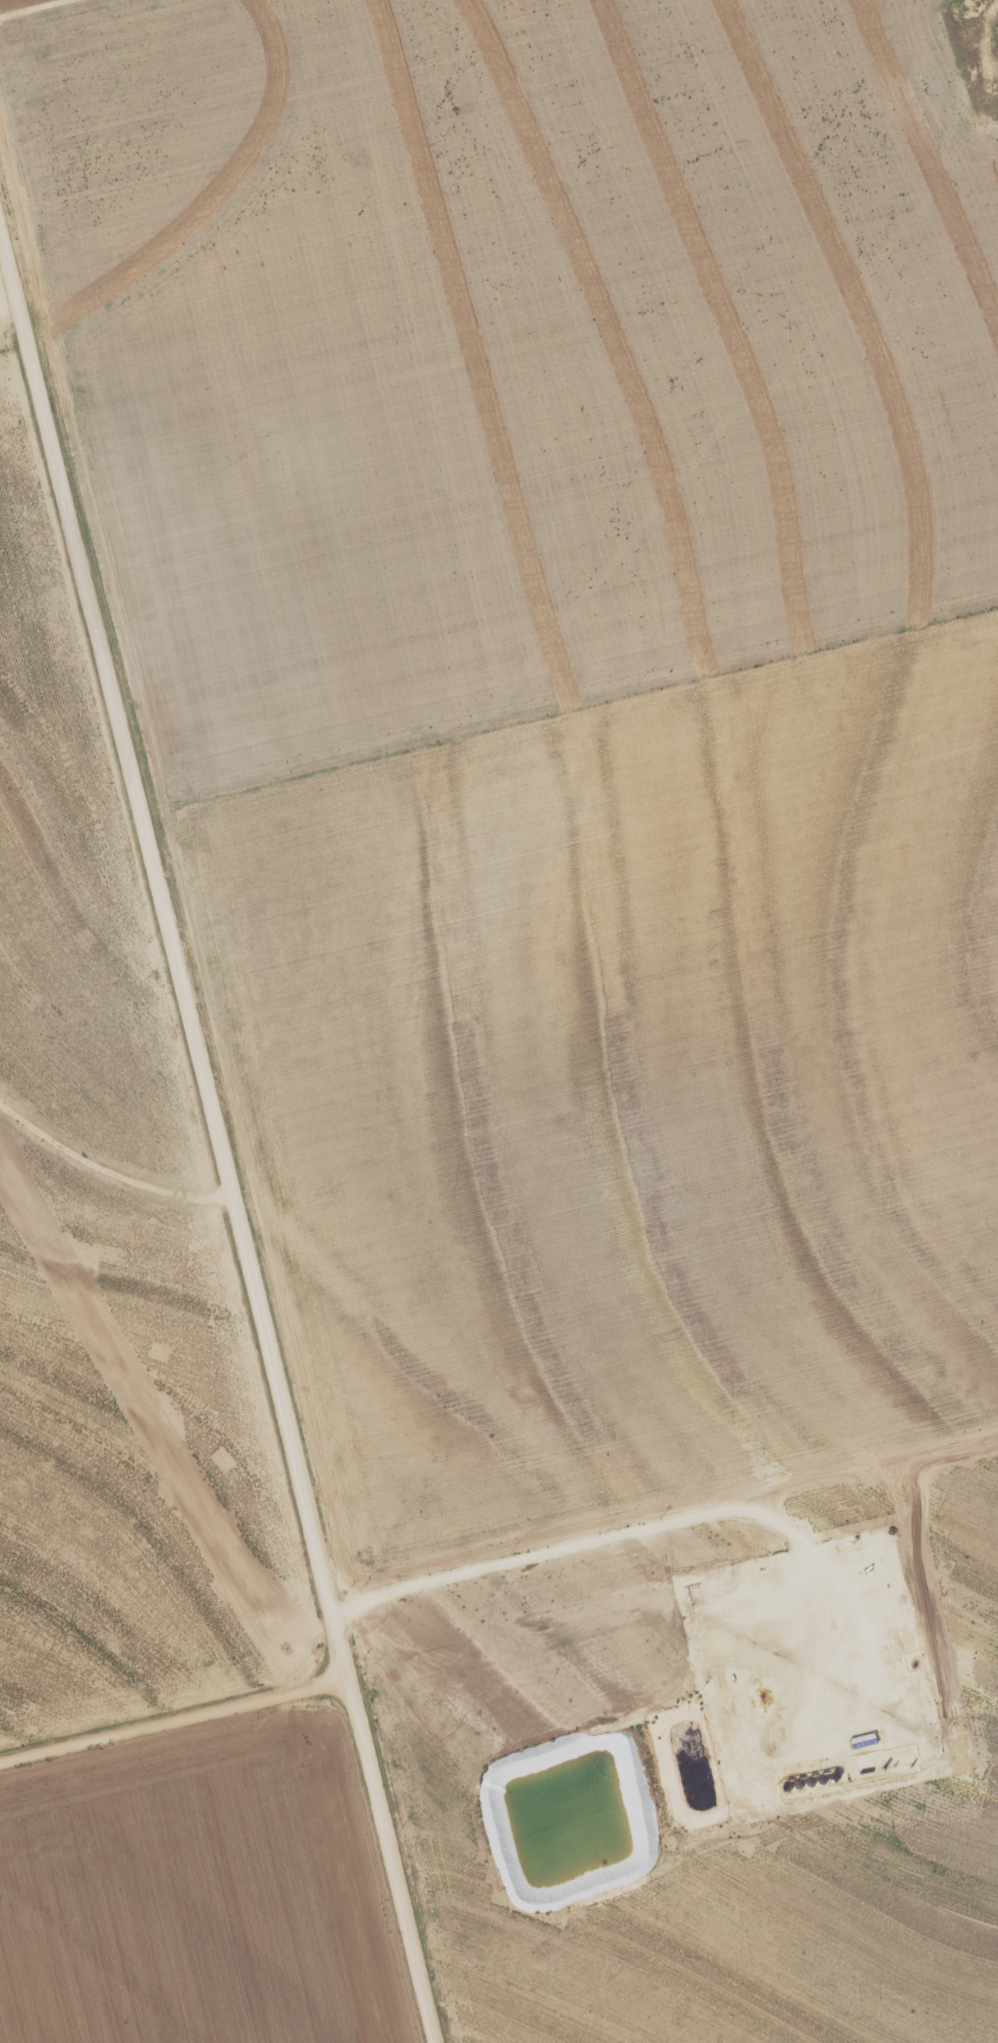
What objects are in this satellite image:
road: (64, 15)
road: (221, 1128)
road: (112, 1201)
road: (669, 1547)
road: (176, 1718)

